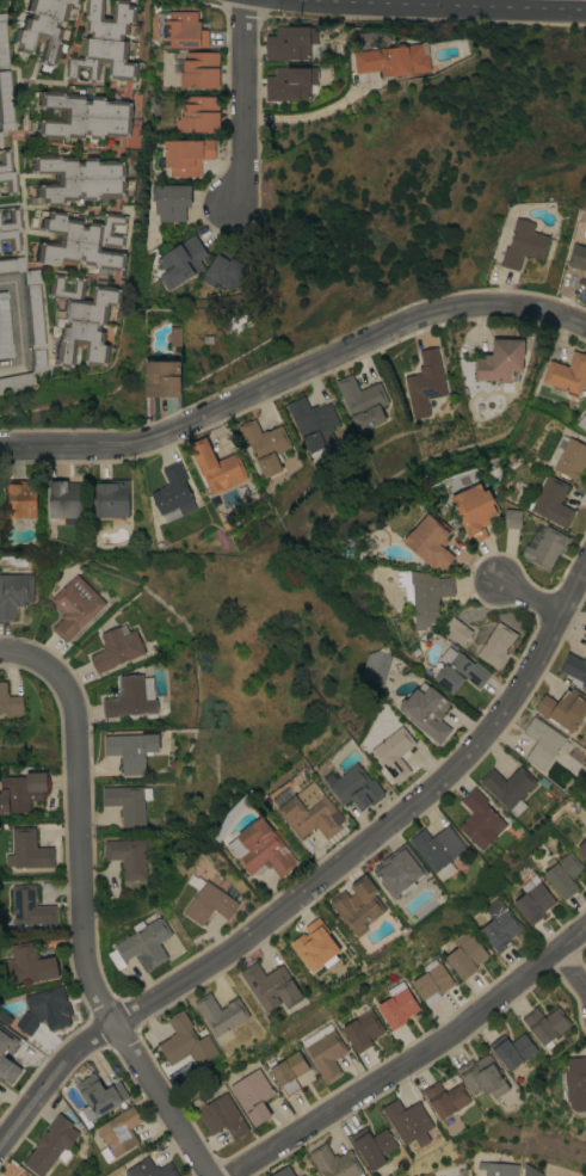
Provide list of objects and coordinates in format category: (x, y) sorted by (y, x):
road: (444, 5)
building: (43, 29)
building: (181, 29)
building: (4, 41)
building: (104, 42)
building: (291, 43)
building: (394, 59)
building: (199, 69)
building: (290, 82)
building: (6, 101)
road: (241, 104)
building: (199, 113)
building: (84, 115)
building: (0, 137)
building: (187, 155)
building: (7, 171)
building: (78, 177)
building: (171, 201)
building: (11, 228)
building: (81, 240)
building: (523, 244)
building: (578, 255)
building: (181, 261)
building: (223, 271)
building: (585, 283)
building: (31, 310)
building: (81, 319)
building: (5, 326)
road: (20, 326)
building: (174, 335)
building: (500, 361)
road: (294, 371)
building: (567, 374)
building: (161, 377)
building: (17, 381)
building: (424, 383)
building: (362, 401)
building: (585, 406)
building: (581, 421)
building: (313, 424)
building: (265, 444)
building: (569, 456)
building: (216, 466)
building: (173, 491)
building: (18, 498)
building: (111, 498)
building: (66, 500)
building: (551, 501)
building: (475, 510)
building: (512, 518)
building: (431, 541)
building: (544, 548)
building: (14, 591)
building: (424, 592)
road: (530, 598)
building: (74, 605)
building: (456, 629)
building: (495, 645)
building: (116, 648)
building: (376, 666)
building: (574, 666)
building: (458, 670)
building: (130, 696)
building: (8, 700)
building: (563, 708)
building: (425, 712)
building: (542, 743)
building: (130, 749)
building: (394, 752)
building: (356, 787)
building: (508, 787)
building: (21, 790)
building: (125, 802)
building: (310, 812)
road: (78, 819)
building: (480, 819)
road: (385, 826)
building: (437, 846)
building: (582, 846)
building: (261, 848)
building: (27, 849)
building: (127, 855)
building: (397, 870)
building: (562, 873)
building: (208, 900)
building: (532, 900)
building: (358, 904)
building: (31, 909)
building: (499, 925)
building: (142, 944)
building: (315, 946)
building: (464, 954)
building: (29, 963)
road: (572, 967)
building: (431, 981)
building: (271, 985)
building: (396, 1004)
building: (43, 1010)
building: (220, 1012)
building: (5, 1017)
building: (545, 1023)
building: (362, 1029)
building: (185, 1041)
building: (513, 1051)
building: (326, 1053)
road: (414, 1059)
building: (6, 1061)
building: (288, 1071)
building: (482, 1075)
road: (51, 1077)
building: (575, 1082)
building: (252, 1094)
building: (98, 1095)
building: (445, 1097)
road: (164, 1100)
building: (220, 1115)
building: (407, 1121)
building: (118, 1132)
building: (51, 1144)
building: (372, 1145)
building: (334, 1162)
building: (150, 1168)
building: (498, 1168)
building: (530, 1170)
building: (282, 1171)
building: (17, 1175)

